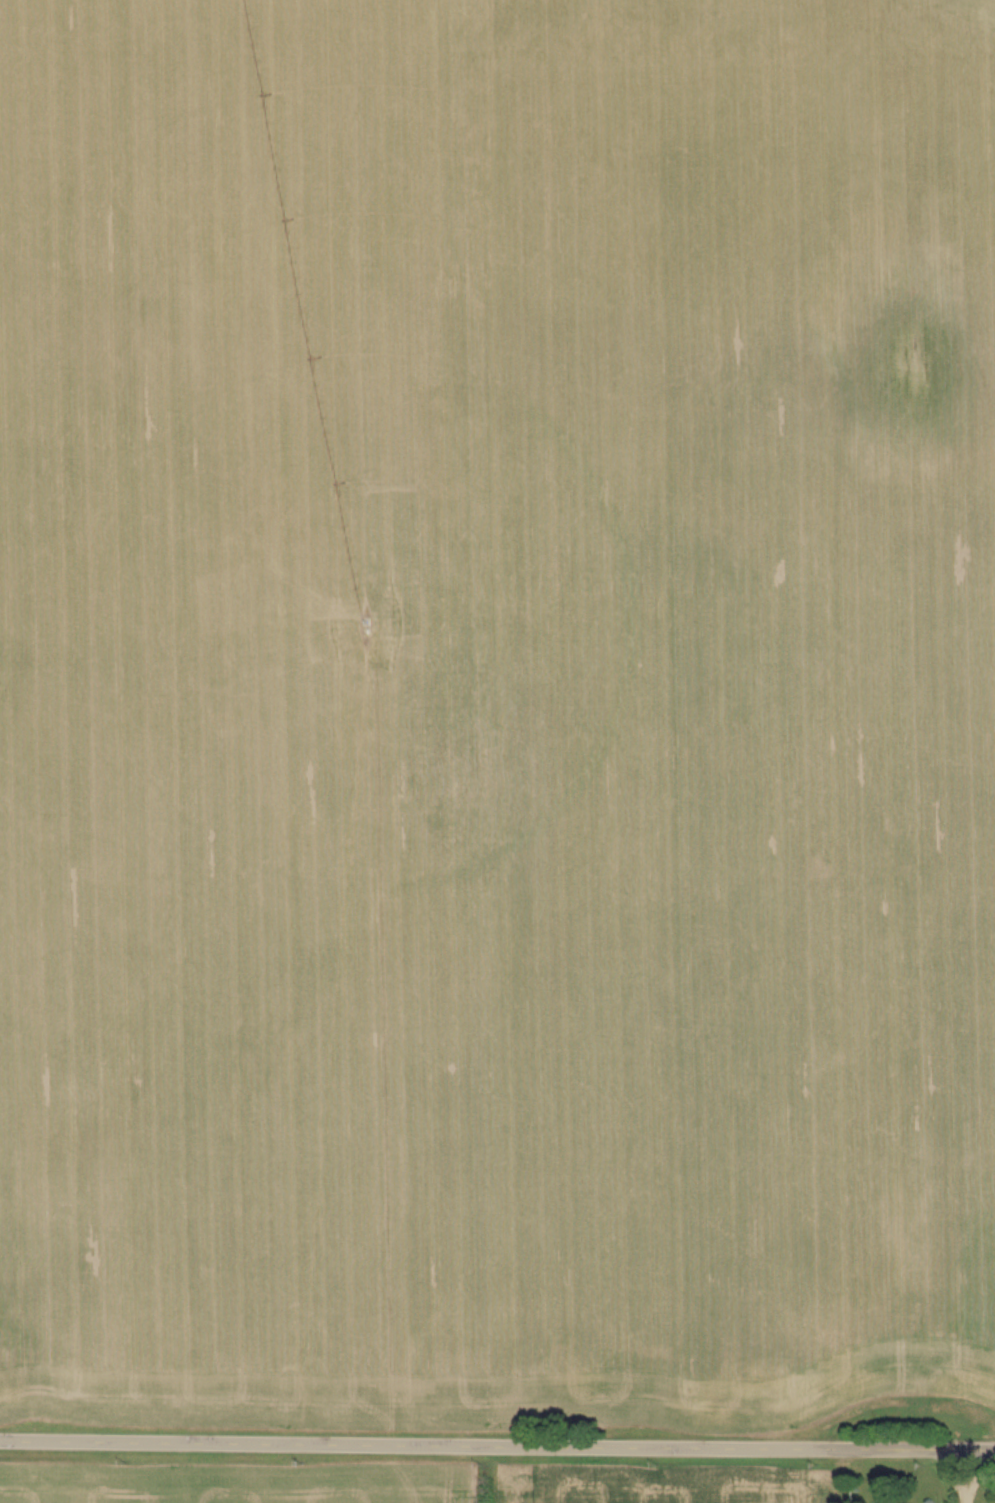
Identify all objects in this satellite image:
crop: (496, 712)
building: (971, 1361)
road: (497, 1444)
crop: (237, 1483)
crop: (663, 1484)

